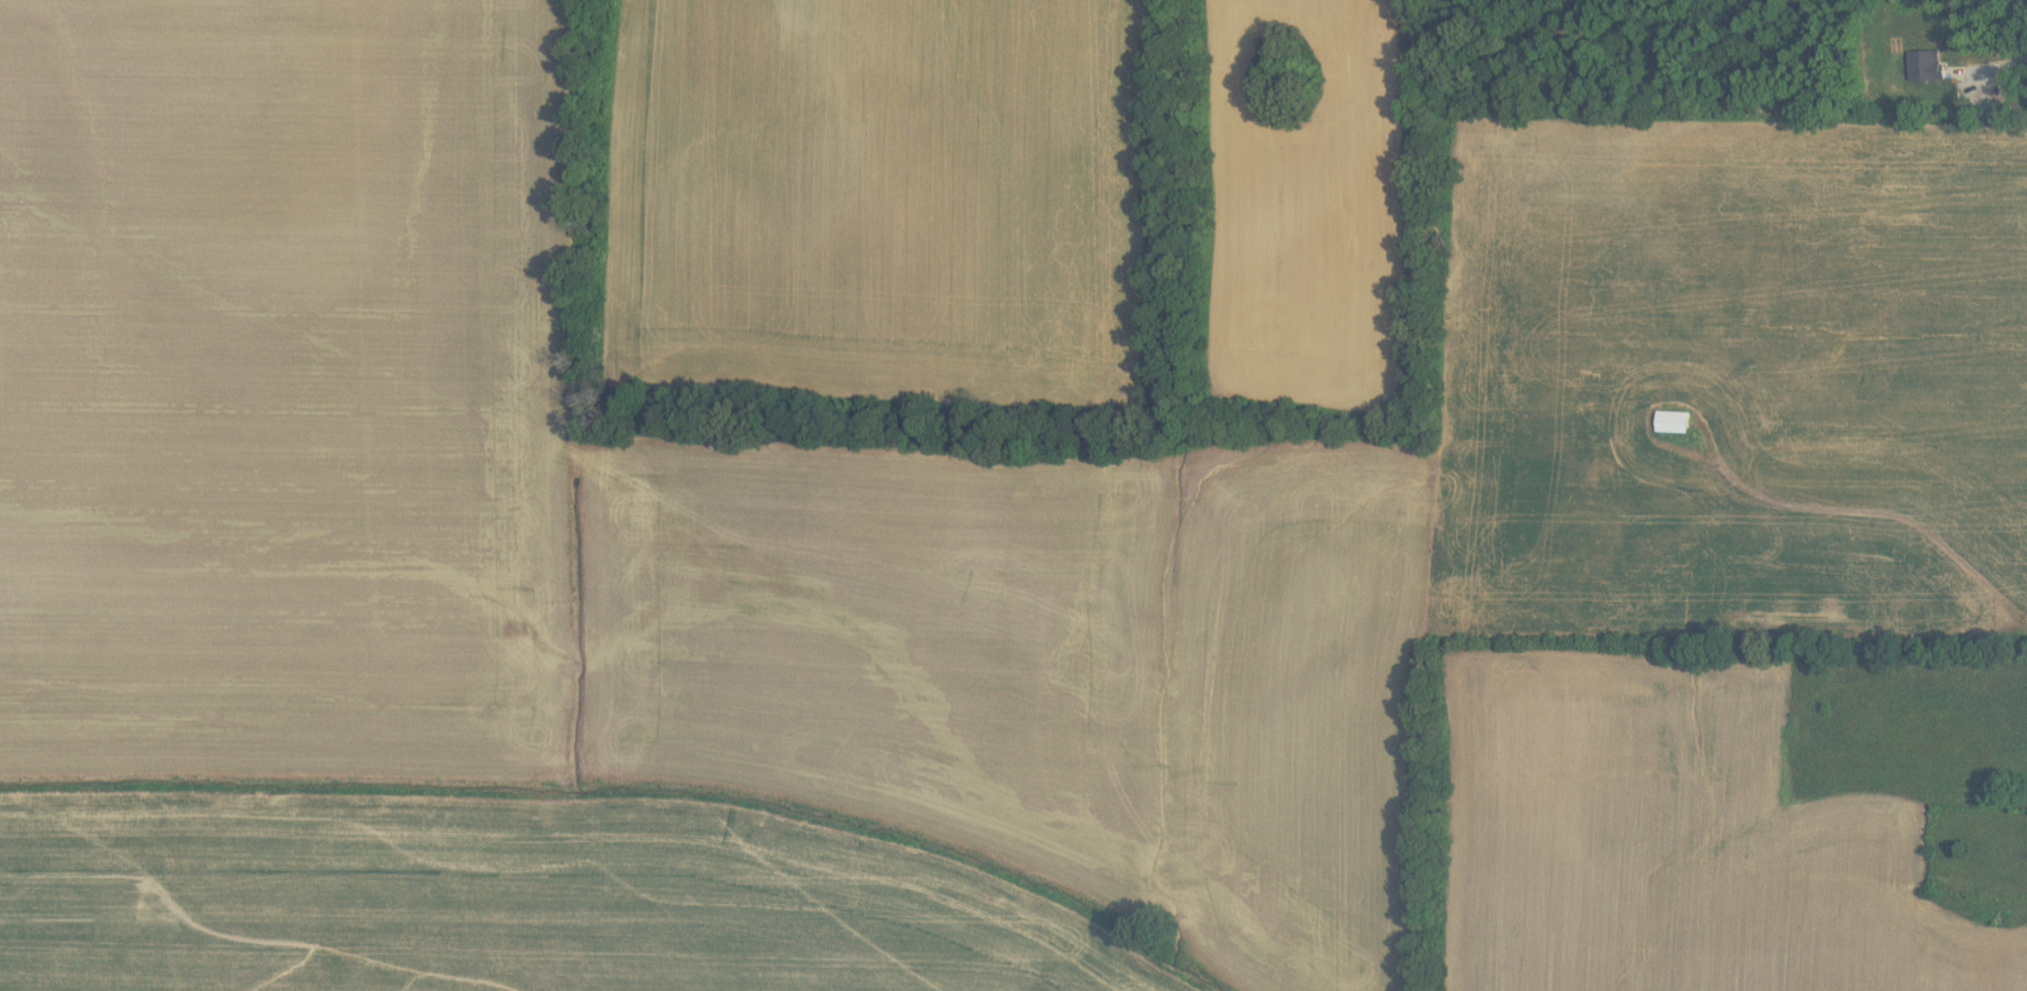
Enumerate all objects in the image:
road: (2001, 64)
building: (1672, 422)

